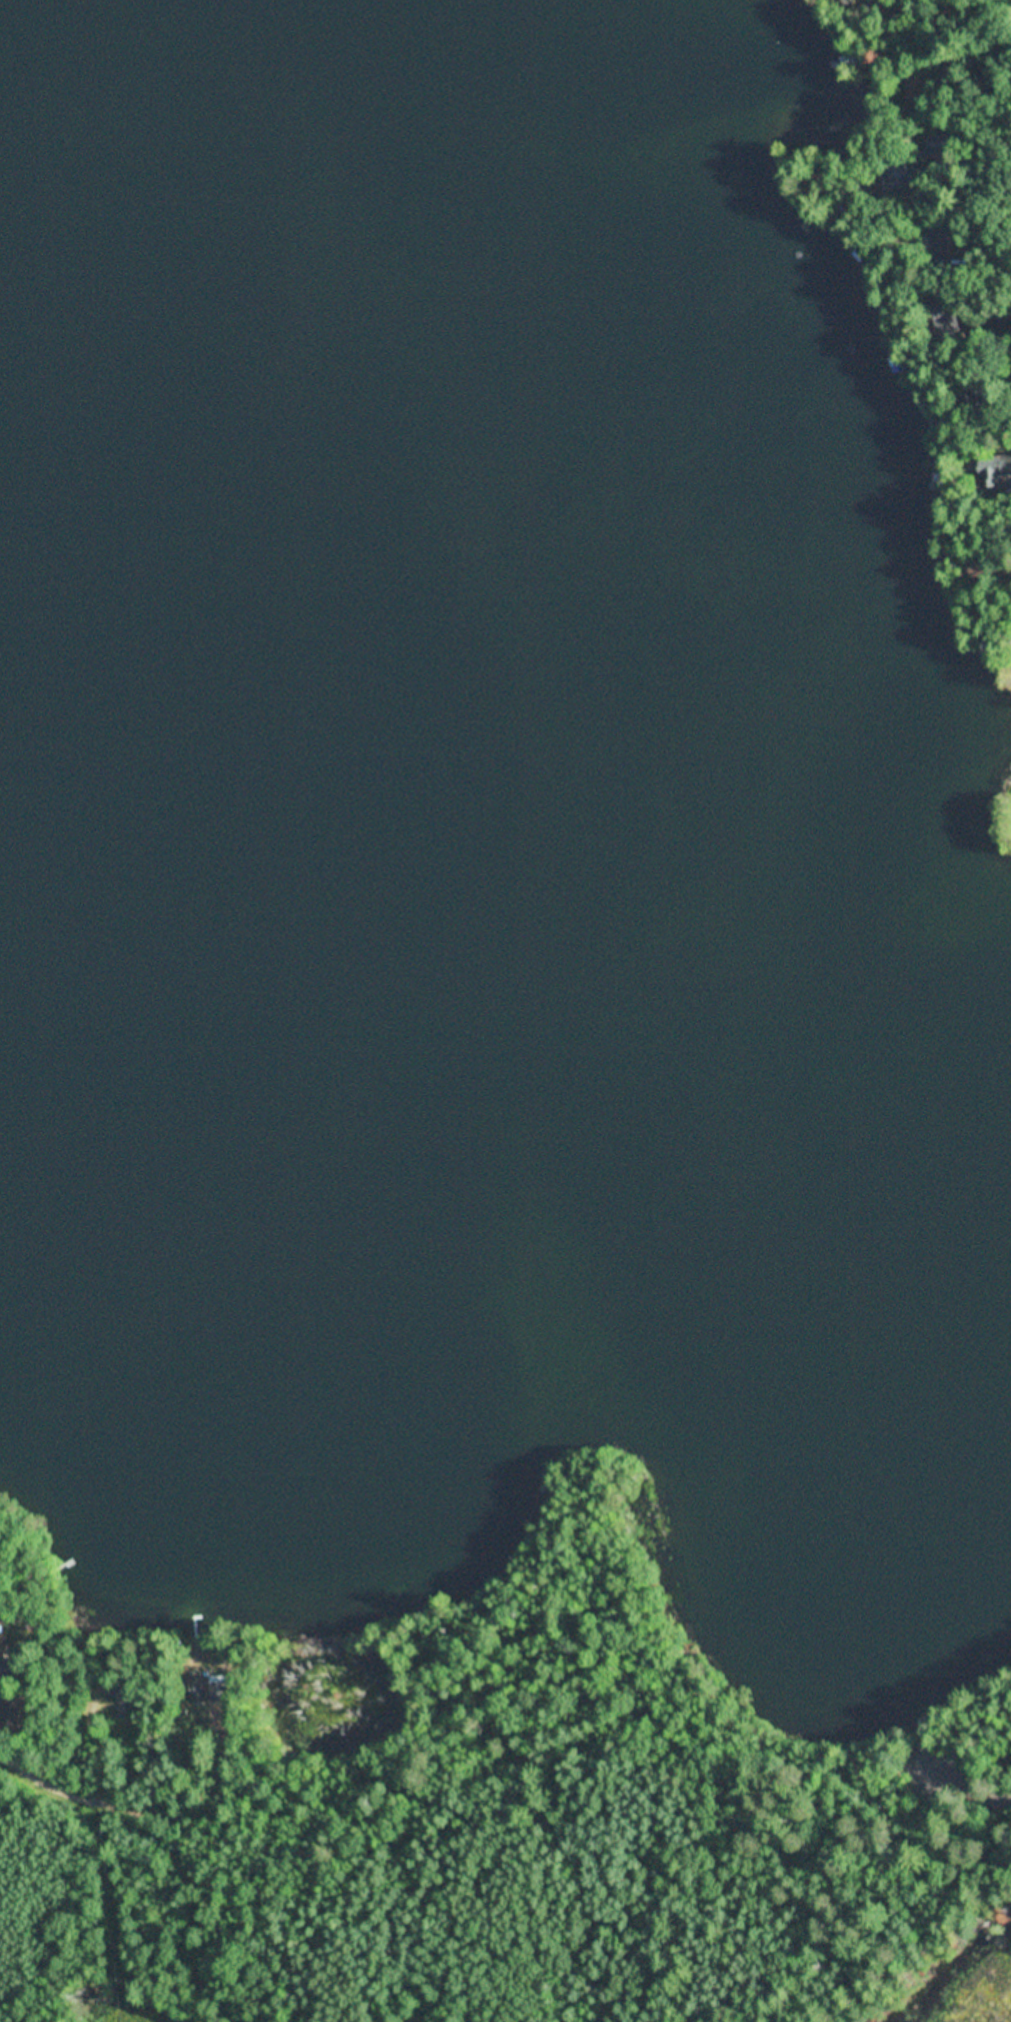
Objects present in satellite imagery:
building: (938, 237)
building: (948, 320)
building: (997, 471)
building: (1, 1642)
building: (207, 1689)
building: (124, 1695)
building: (16, 1710)
road: (160, 1778)
road: (951, 1828)

